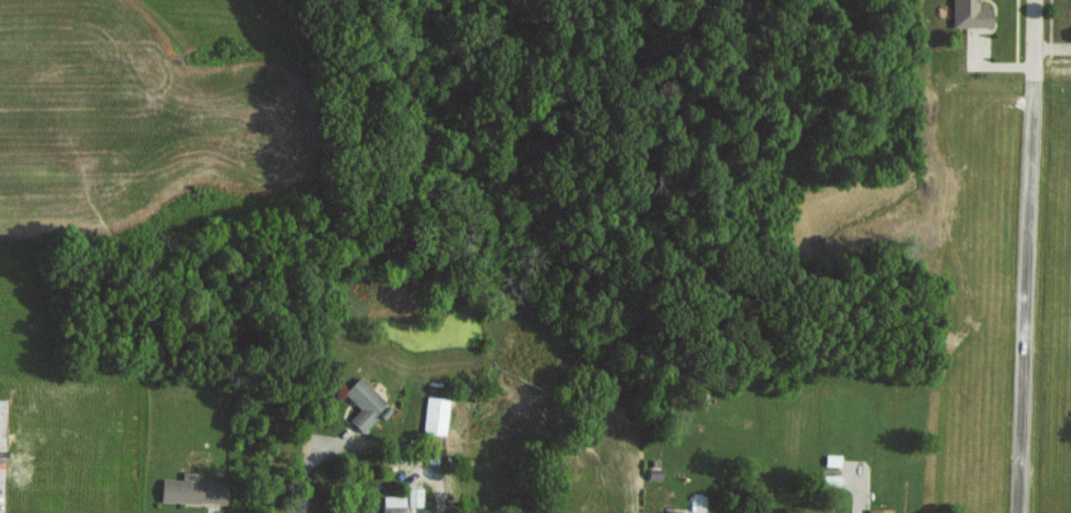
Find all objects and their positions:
building: (968, 14)
crop: (130, 118)
road: (1028, 256)
building: (361, 403)
building: (434, 414)
road: (307, 472)
building: (190, 489)
building: (414, 496)
building: (392, 507)
building: (878, 510)
building: (670, 512)

